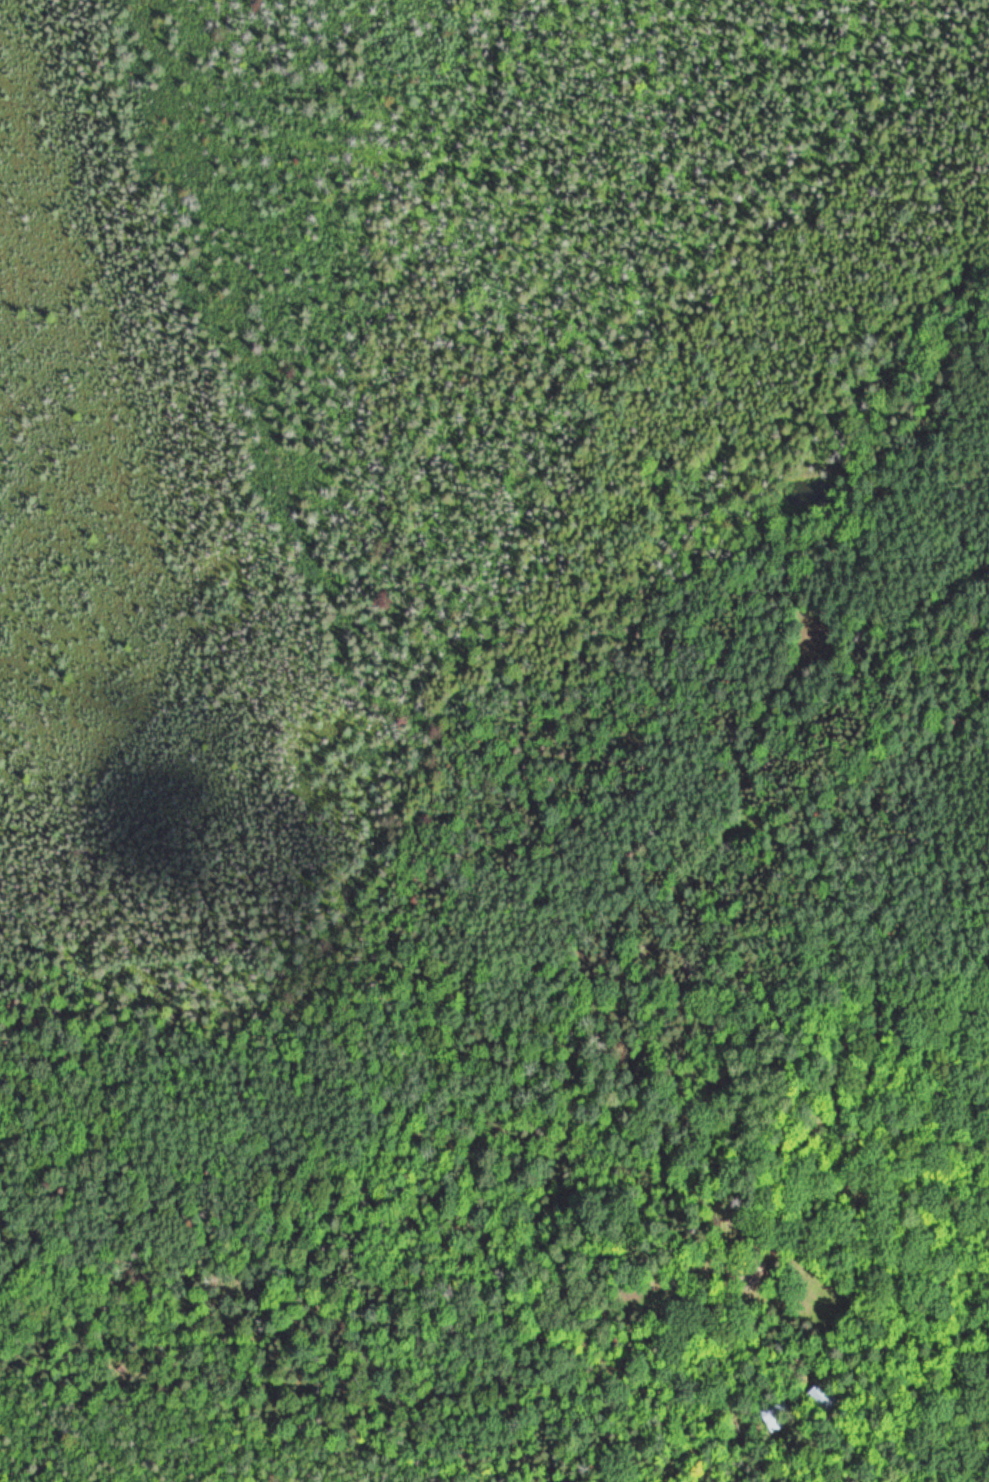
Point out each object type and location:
quarry: (9, 1173)

